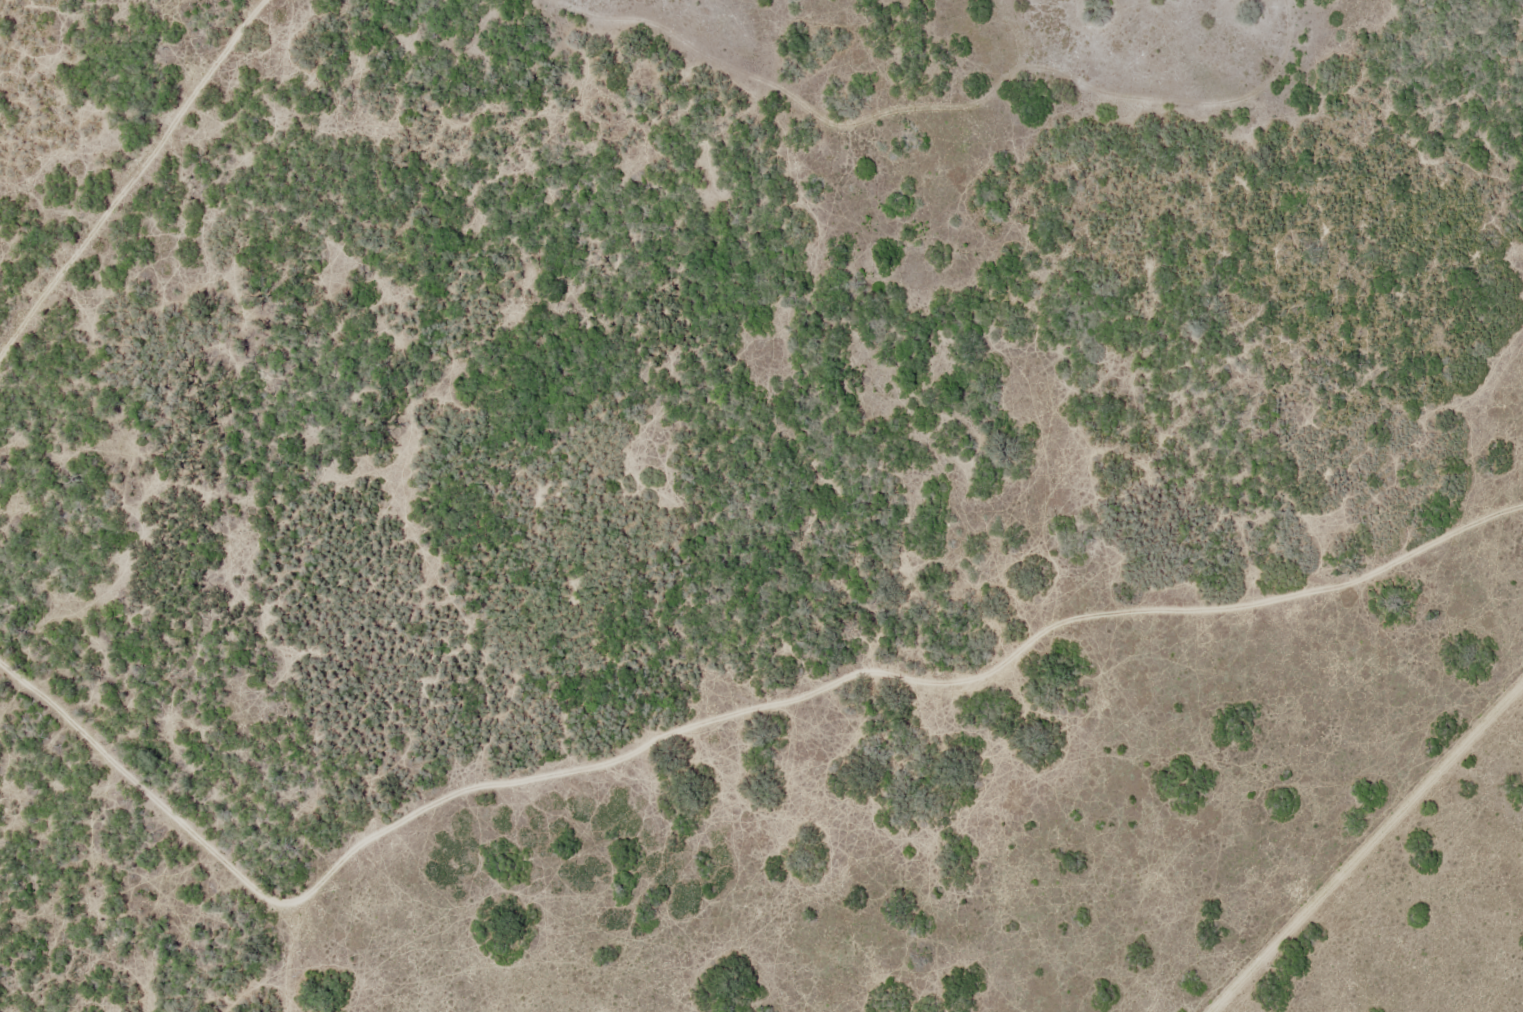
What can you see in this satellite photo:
road: (845, 687)

